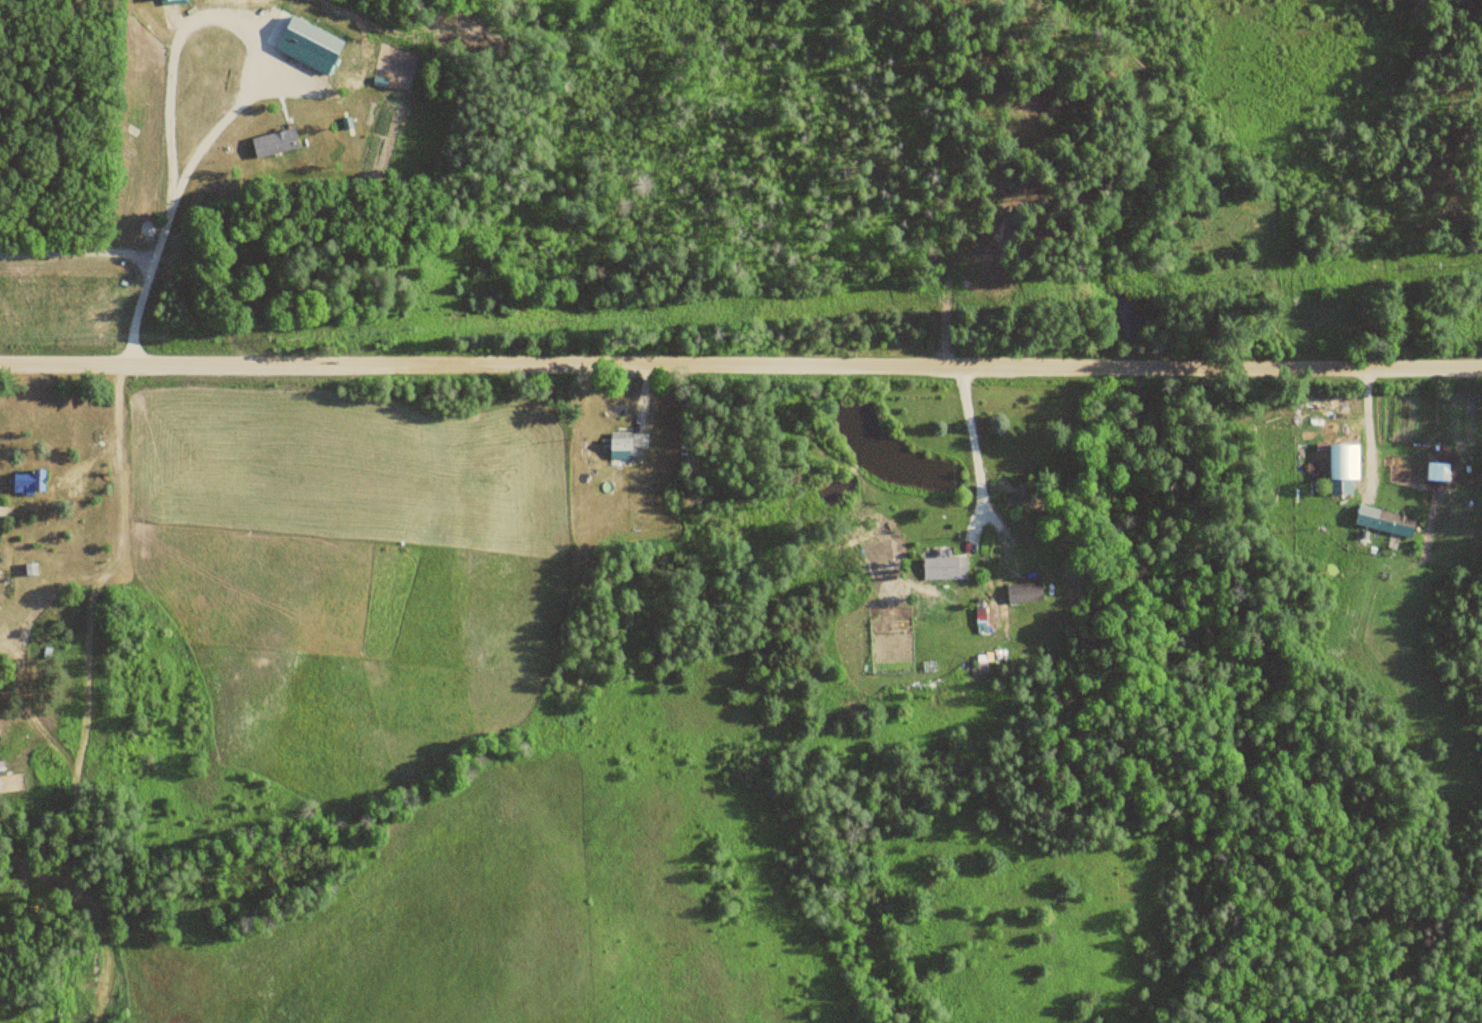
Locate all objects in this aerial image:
road: (251, 84)
road: (78, 252)
road: (740, 363)
road: (644, 396)
road: (1367, 426)
building: (622, 448)
road: (978, 462)
building: (28, 482)
building: (1393, 524)
building: (944, 568)
building: (30, 570)
building: (1024, 592)

